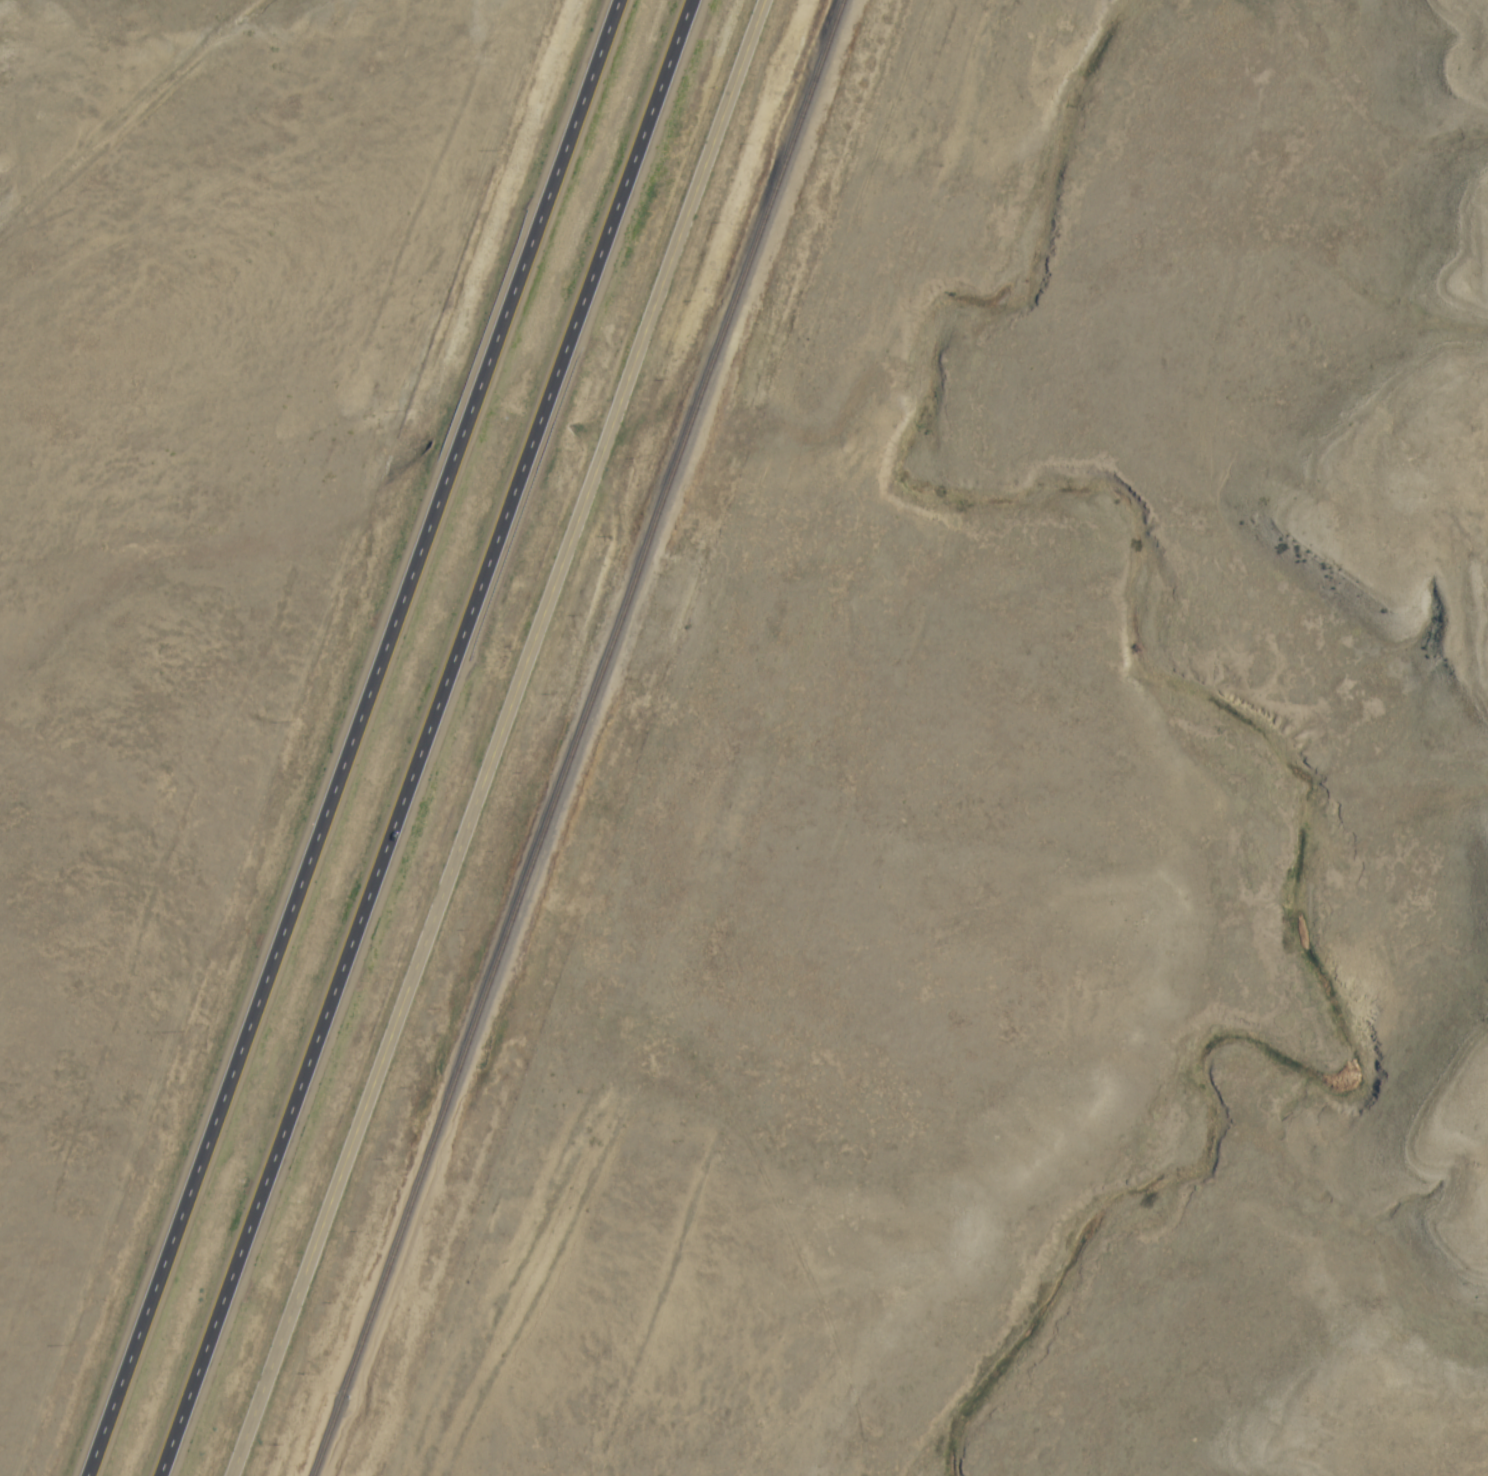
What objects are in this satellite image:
road: (126, 130)
road: (469, 729)
road: (352, 737)
road: (428, 737)
railway: (577, 738)

